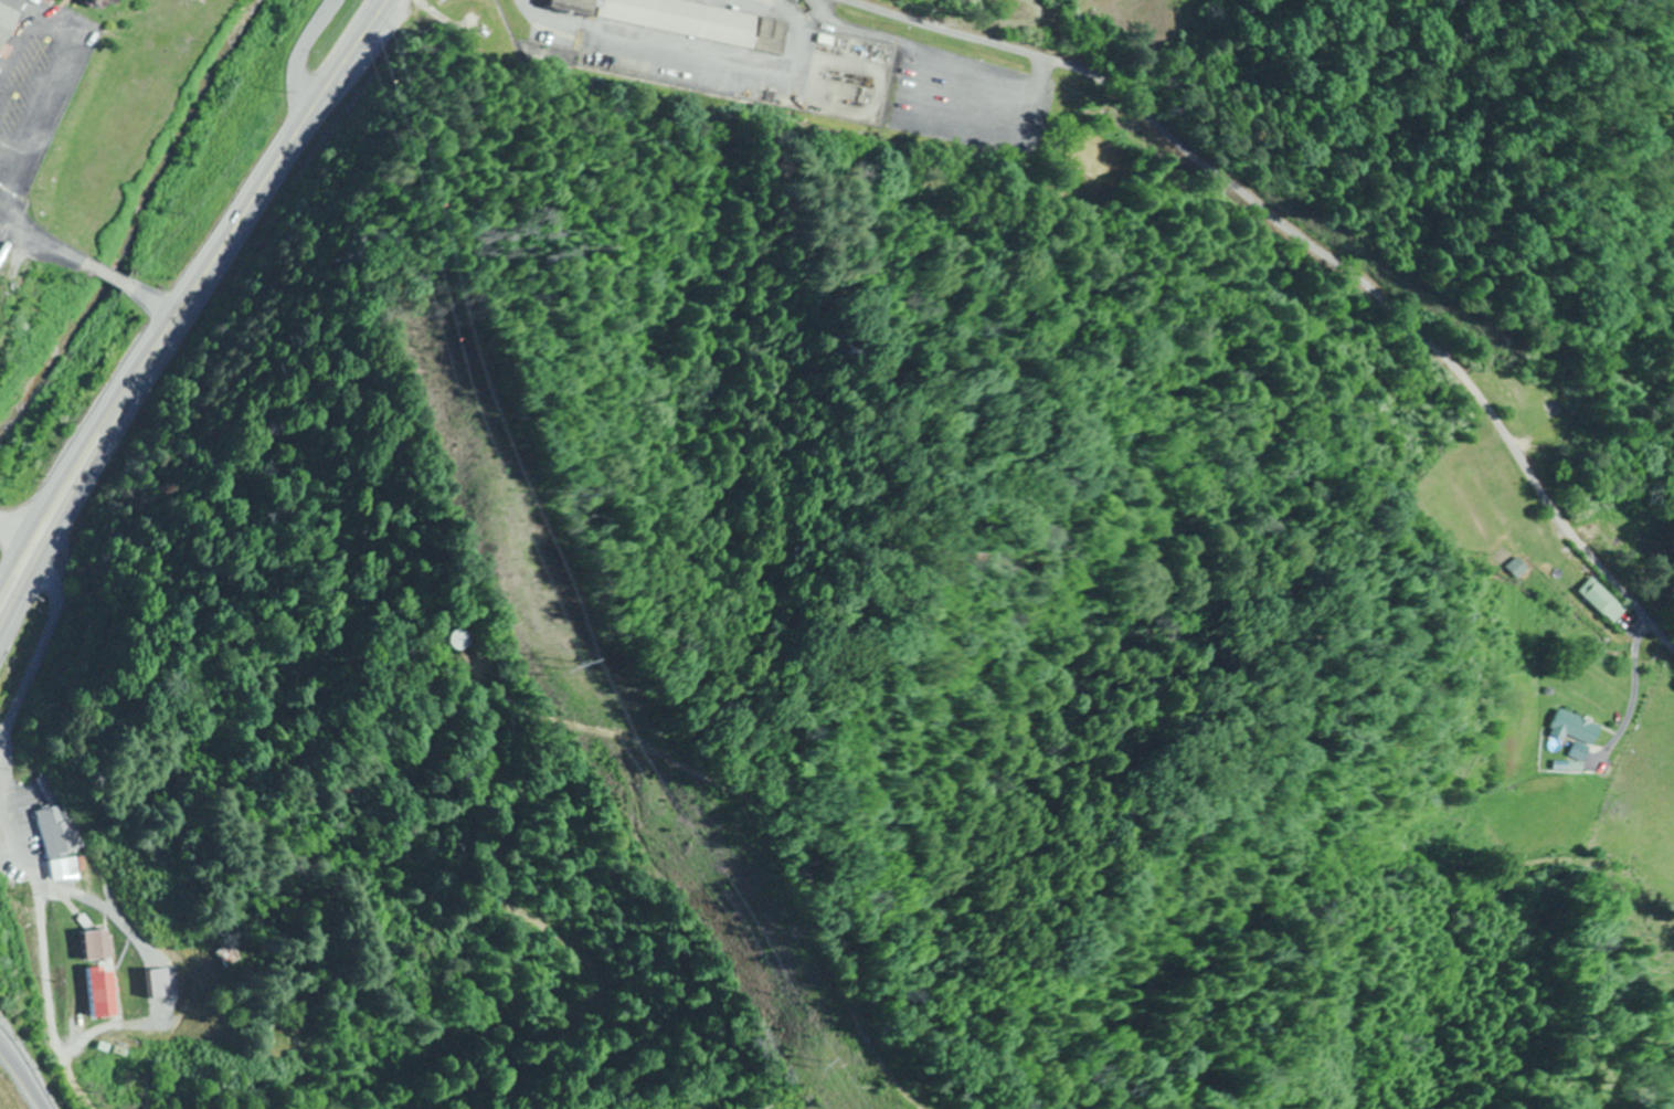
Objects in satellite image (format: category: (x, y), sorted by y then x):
building: (95, 4)
building: (7, 21)
building: (685, 21)
road: (1104, 50)
road: (300, 51)
road: (1312, 250)
road: (186, 302)
building: (1537, 413)
building: (1474, 485)
building: (1427, 503)
road: (18, 535)
building: (1514, 569)
building: (1599, 601)
building: (460, 640)
road: (43, 658)
building: (1574, 733)
building: (61, 825)
building: (97, 946)
road: (45, 951)
road: (24, 1075)

